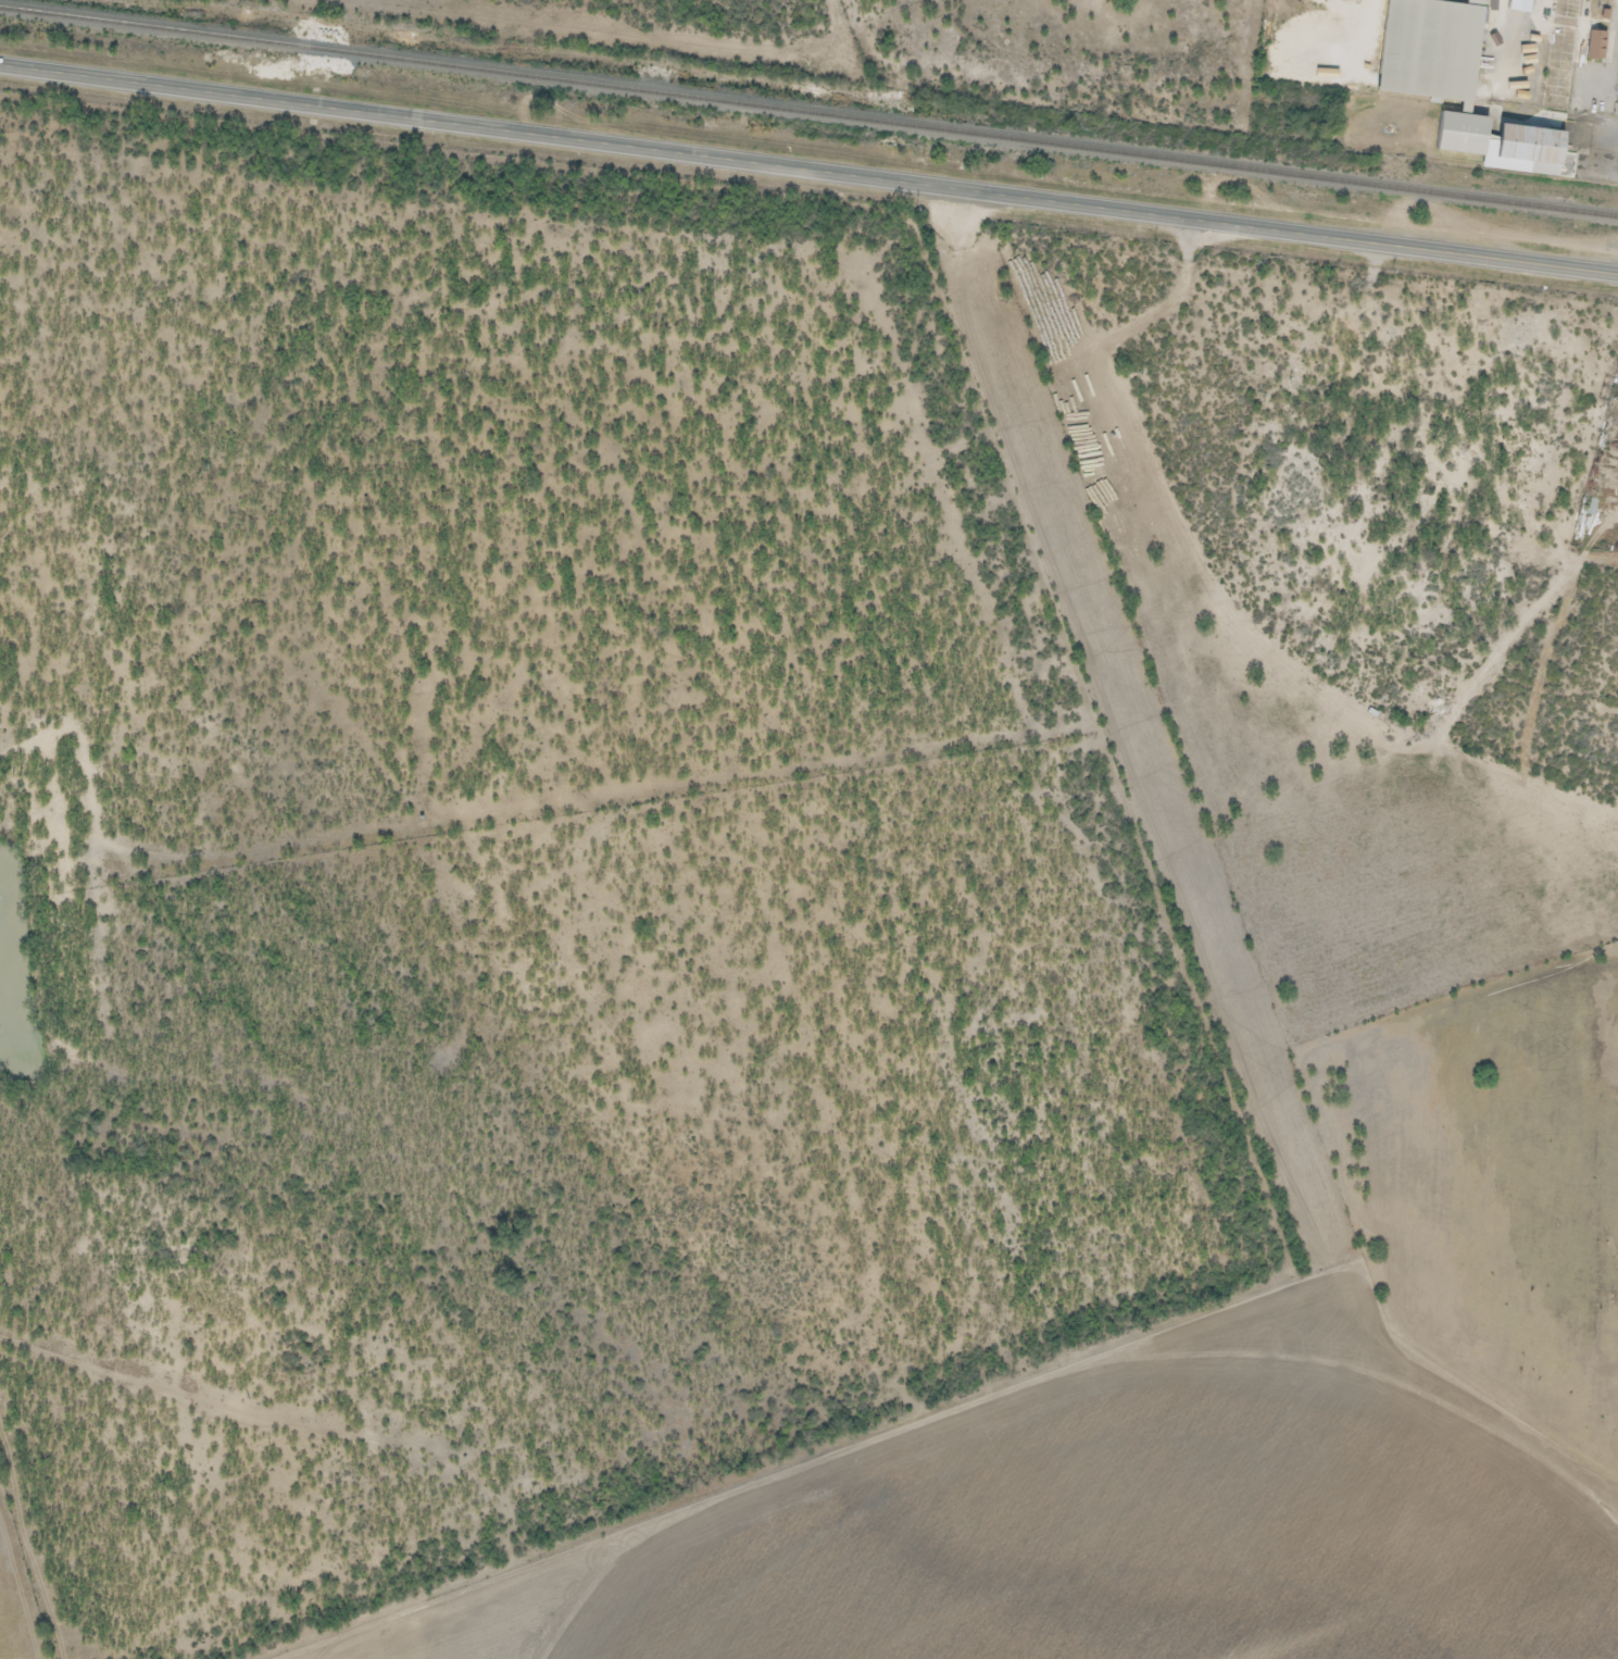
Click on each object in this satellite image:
building: (1597, 45)
building: (1439, 64)
road: (1611, 104)
railway: (808, 112)
building: (1533, 145)
road: (808, 167)

